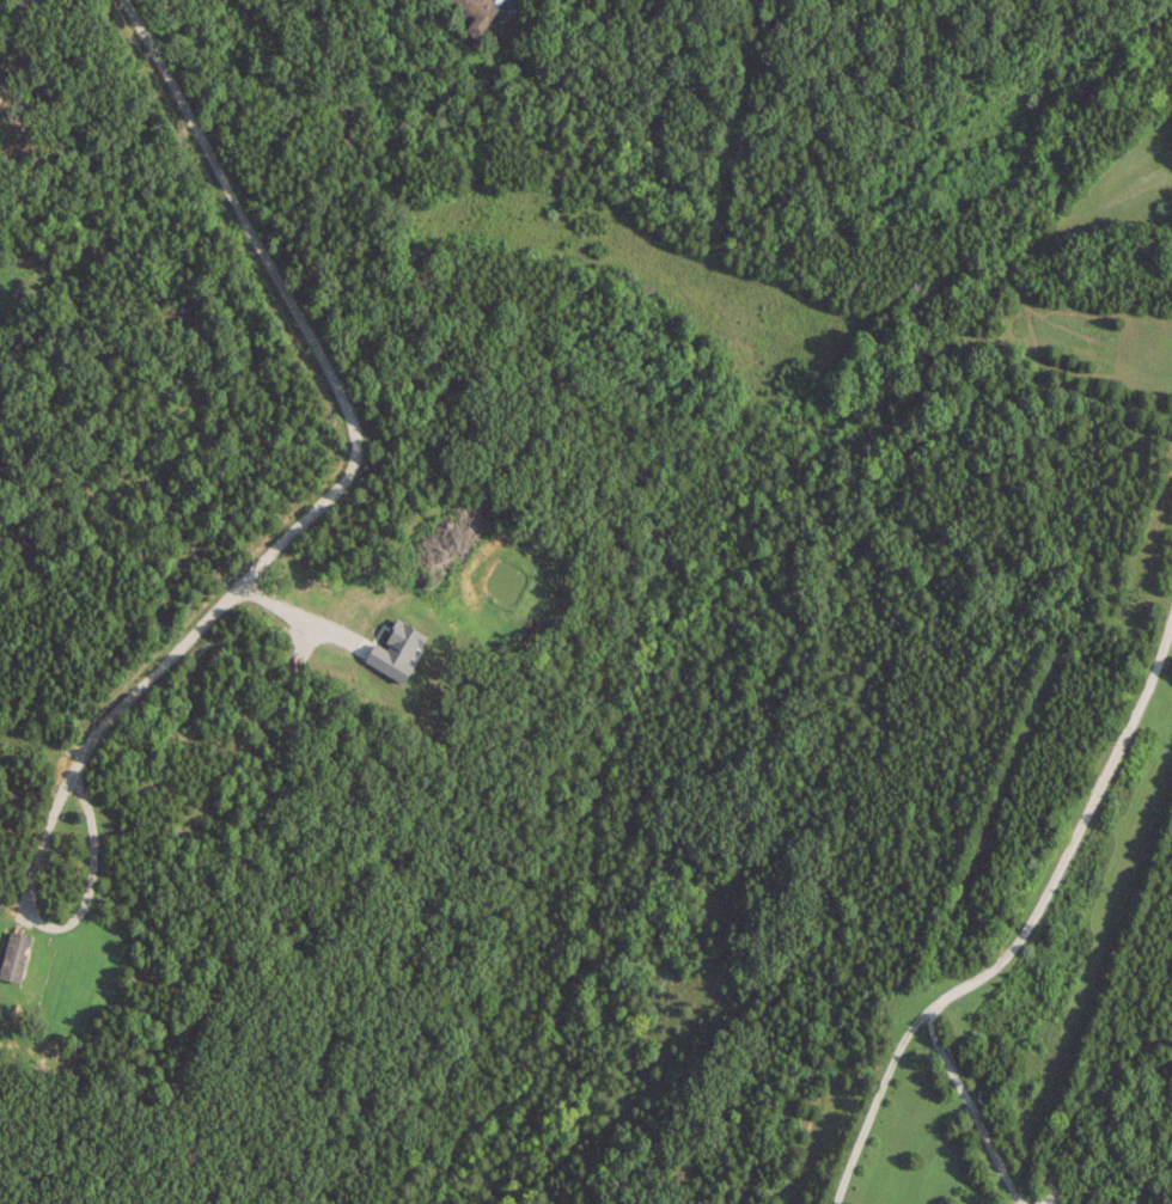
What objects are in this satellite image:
road: (505, 5)
building: (477, 13)
road: (823, 142)
road: (761, 291)
road: (355, 469)
road: (295, 618)
road: (1082, 842)
building: (12, 954)
road: (873, 1102)
road: (969, 1108)

